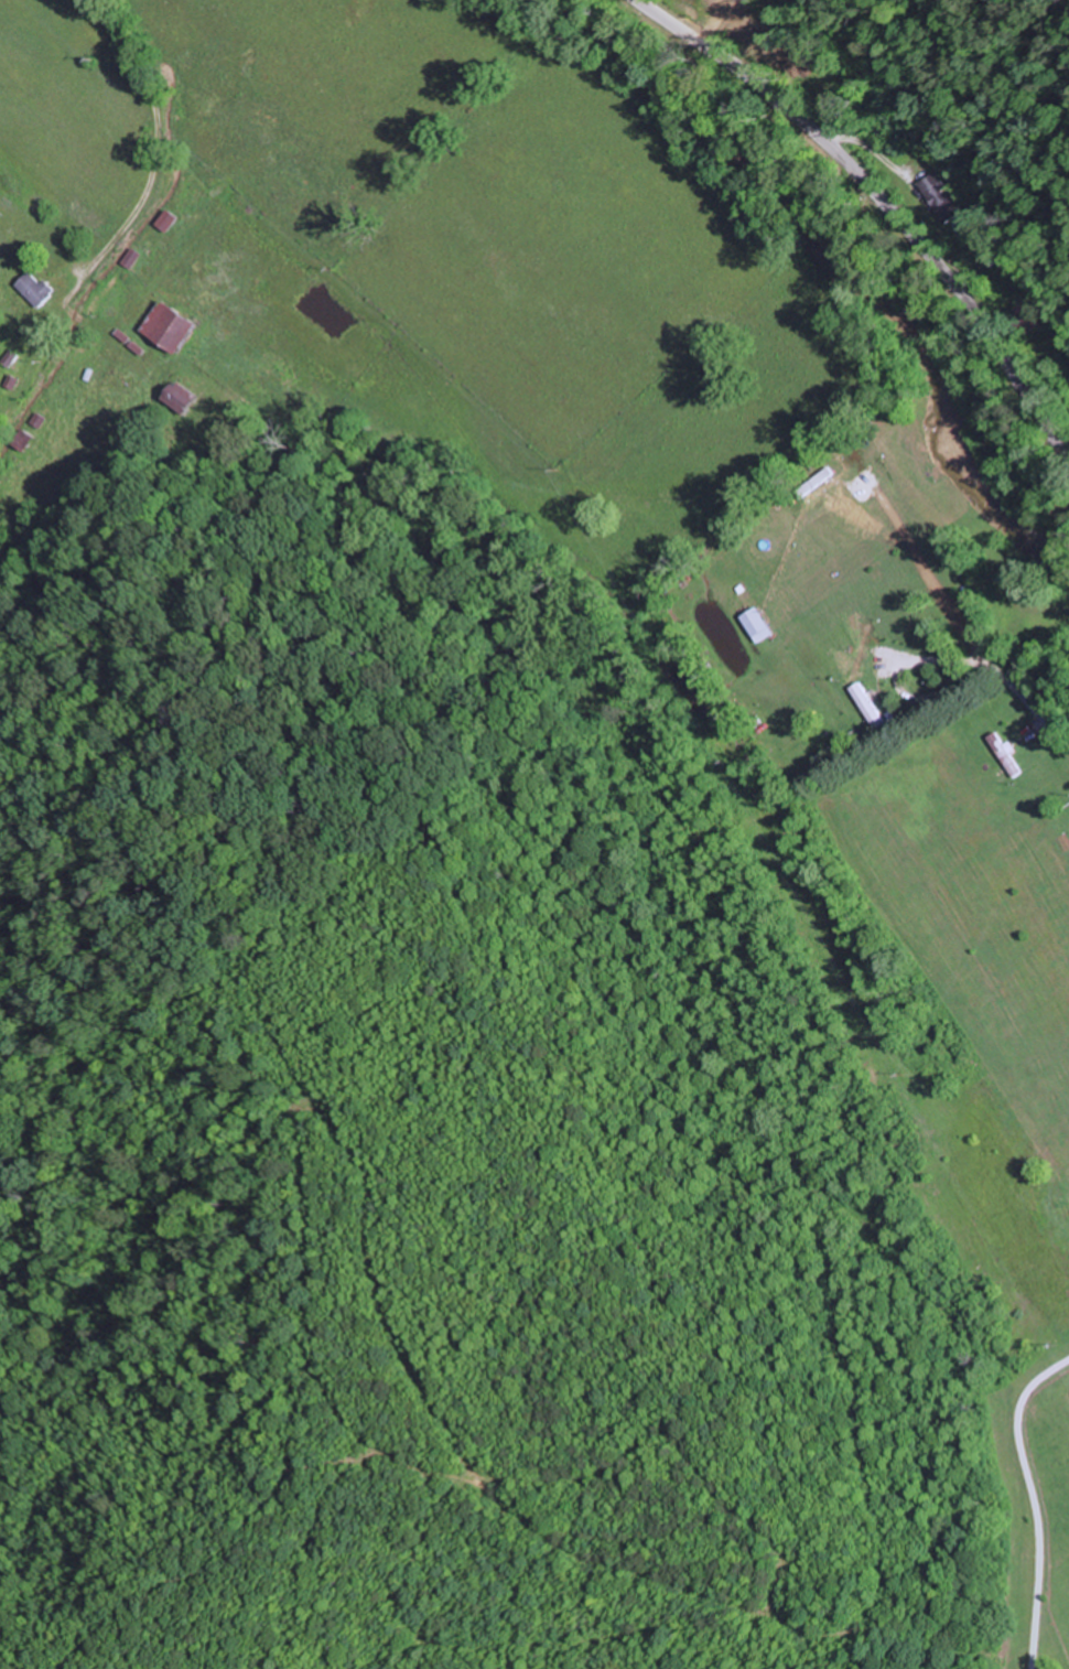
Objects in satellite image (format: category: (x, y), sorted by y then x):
road: (45, 146)
building: (940, 196)
road: (884, 208)
building: (173, 220)
building: (134, 258)
building: (40, 290)
building: (172, 325)
building: (182, 397)
building: (37, 421)
building: (24, 441)
building: (760, 624)
building: (872, 708)
building: (1008, 755)

